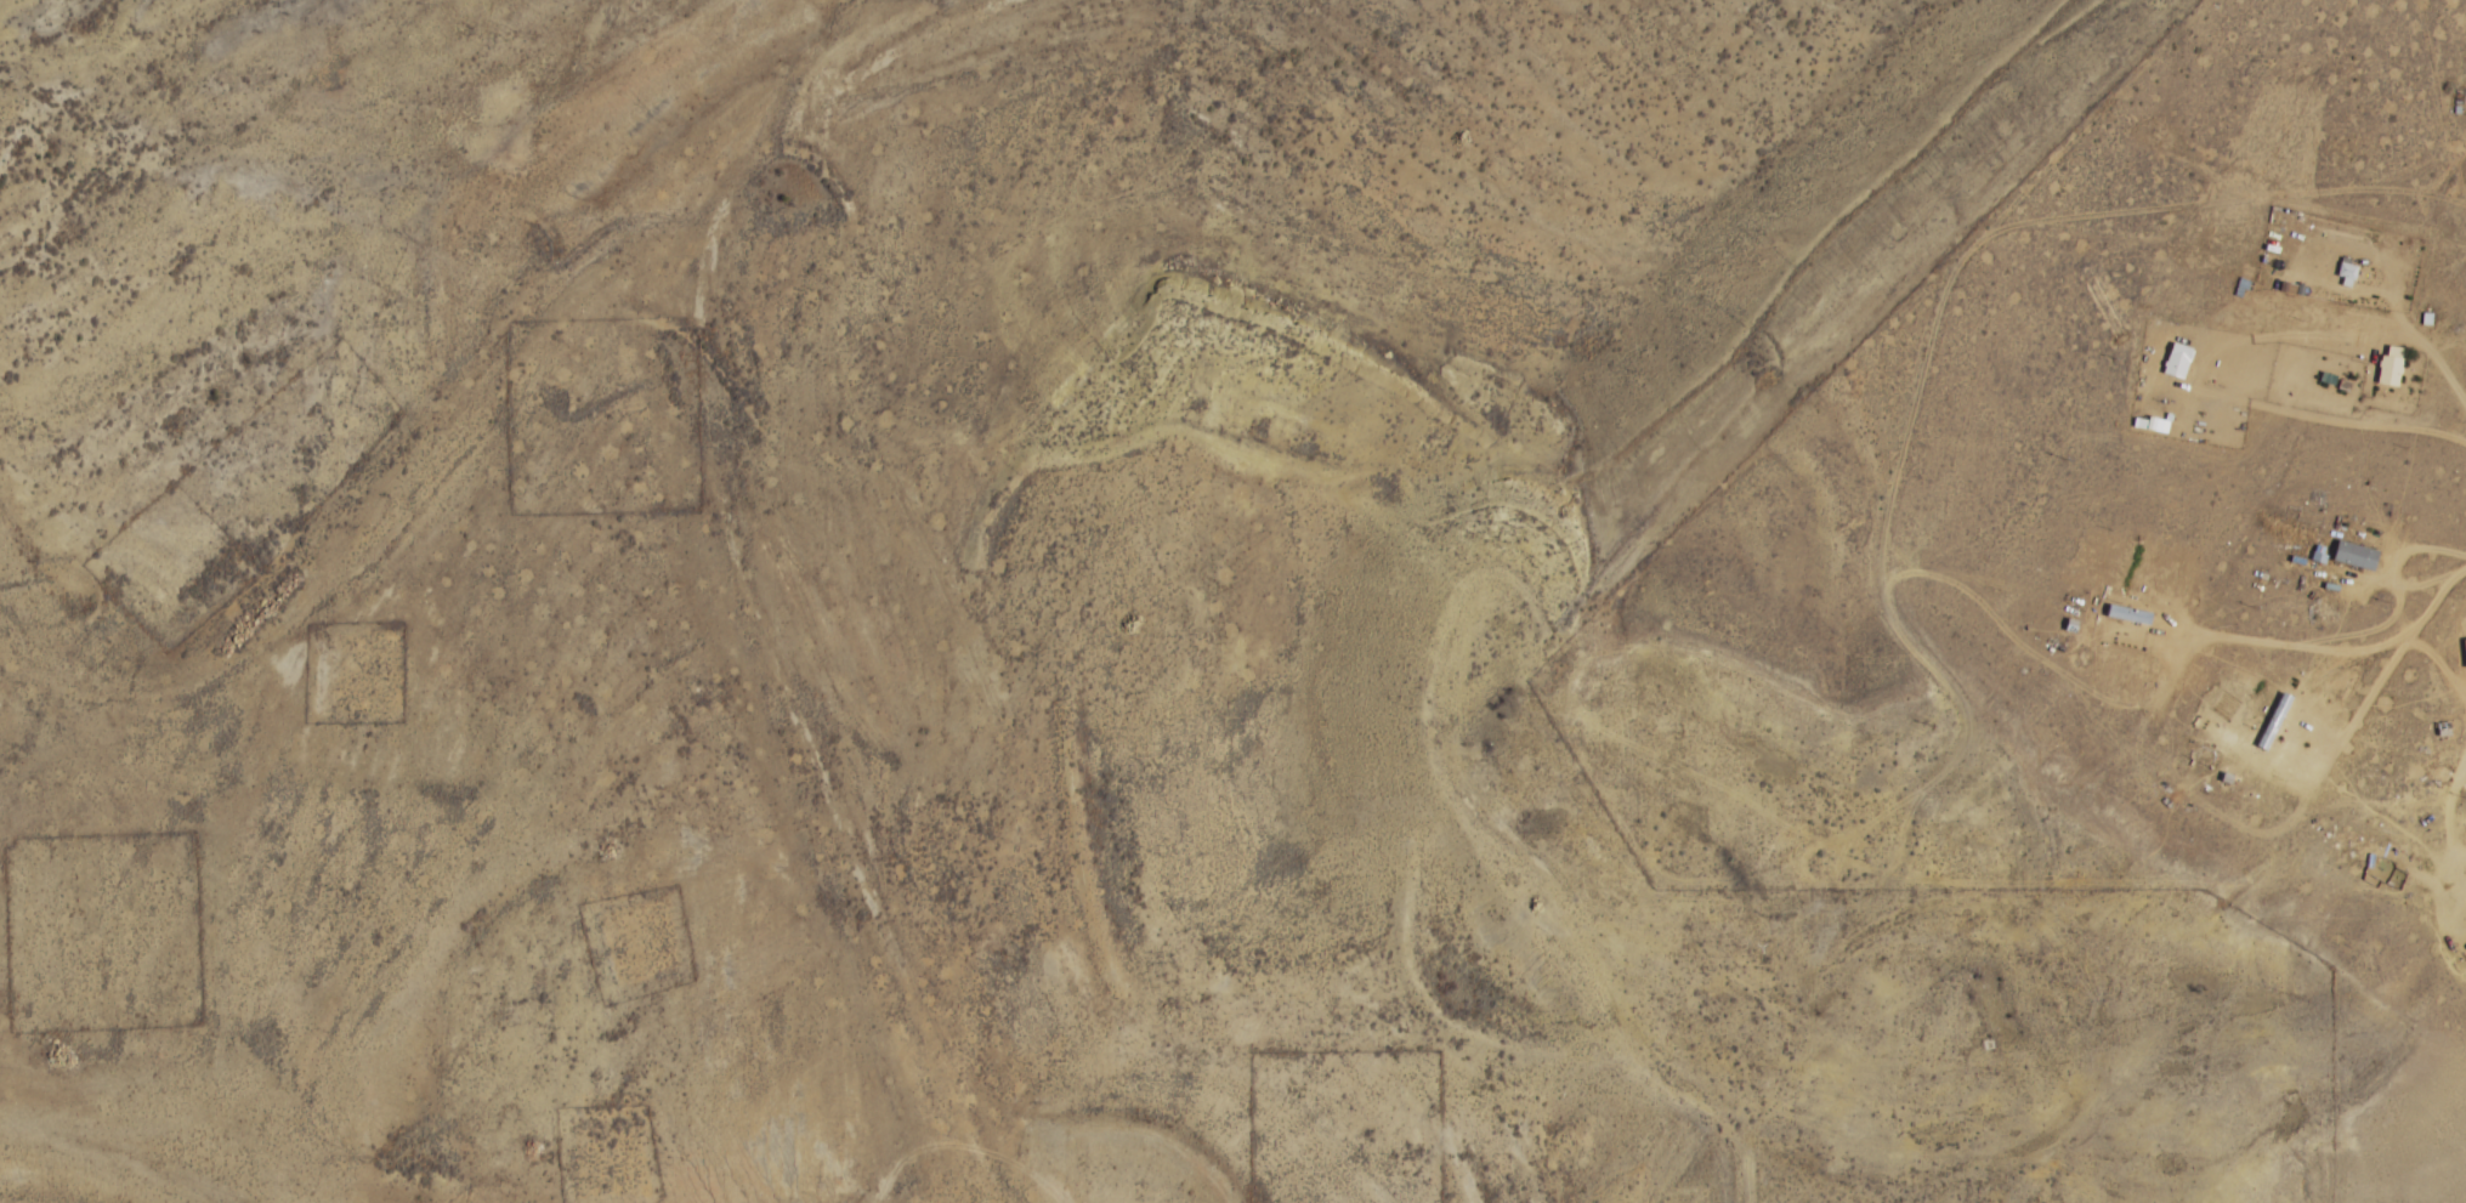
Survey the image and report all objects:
building: (2346, 268)
building: (2177, 359)
building: (2390, 364)
building: (2356, 555)
building: (2128, 614)
building: (2273, 720)
road: (1813, 907)
road: (1786, 1090)
road: (962, 1151)

